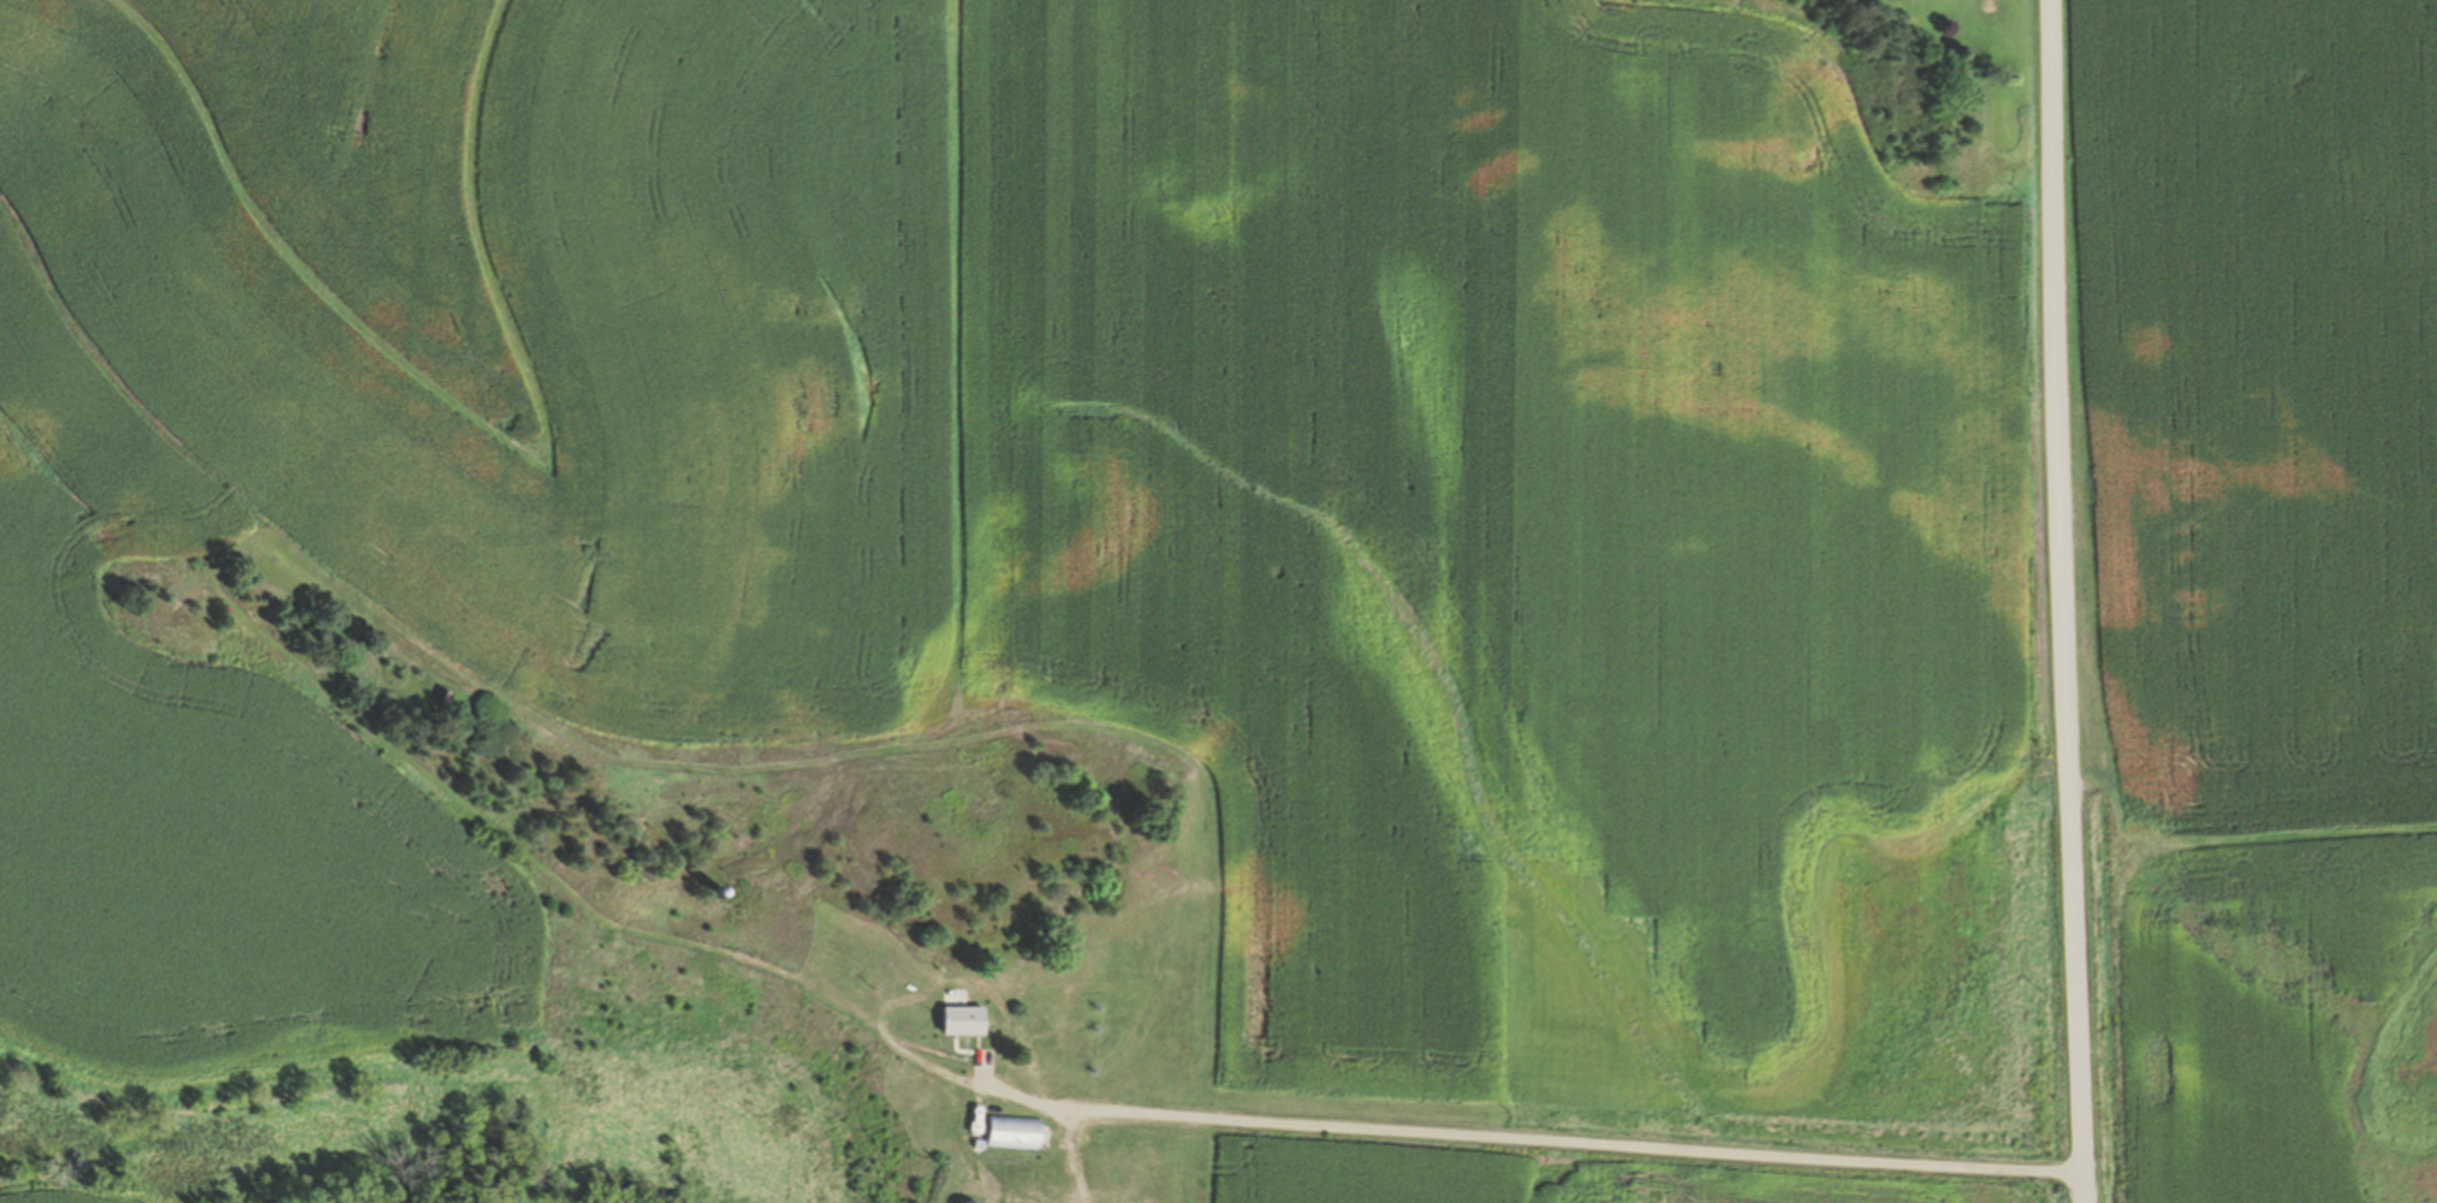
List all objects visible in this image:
road: (2067, 601)
building: (444, 698)
building: (968, 1022)
building: (1016, 1133)
road: (1539, 1147)

